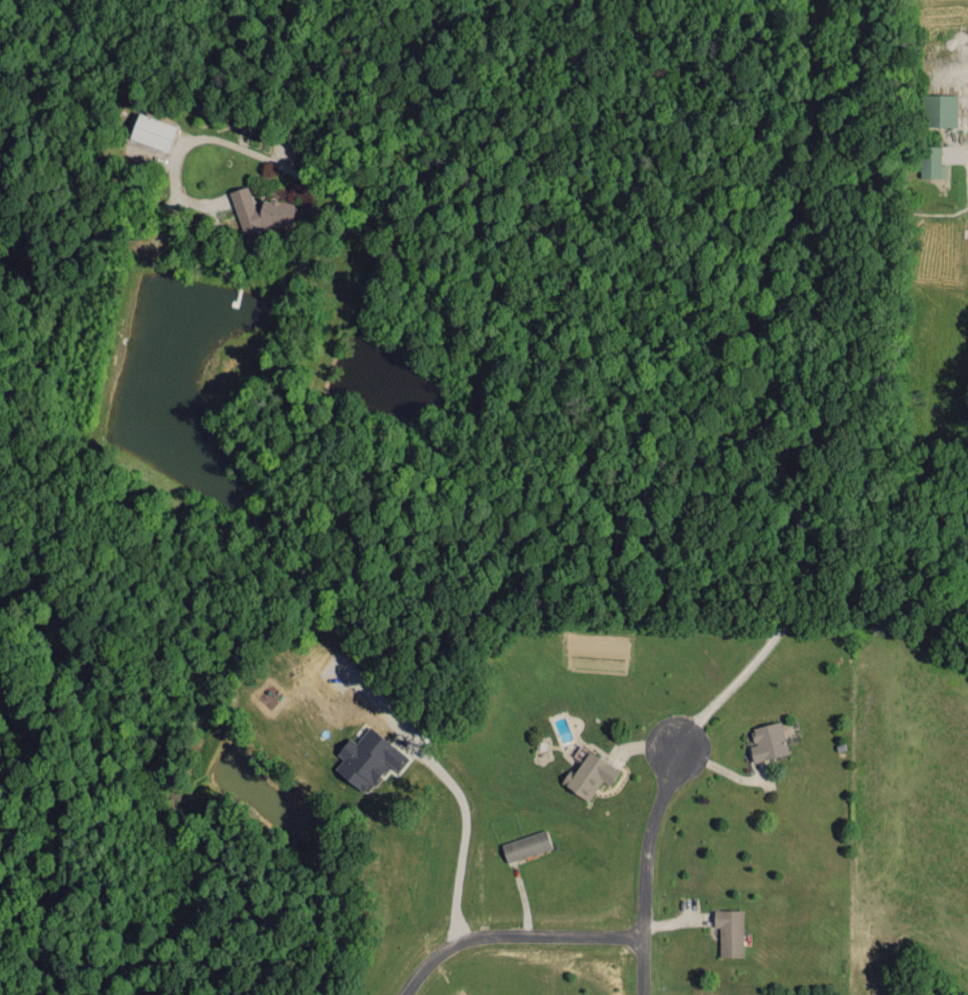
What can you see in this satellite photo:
building: (939, 109)
building: (151, 131)
building: (932, 162)
building: (260, 210)
road: (624, 383)
building: (767, 741)
building: (366, 758)
building: (589, 775)
road: (463, 832)
building: (525, 845)
road: (646, 860)
building: (729, 931)
road: (511, 934)

